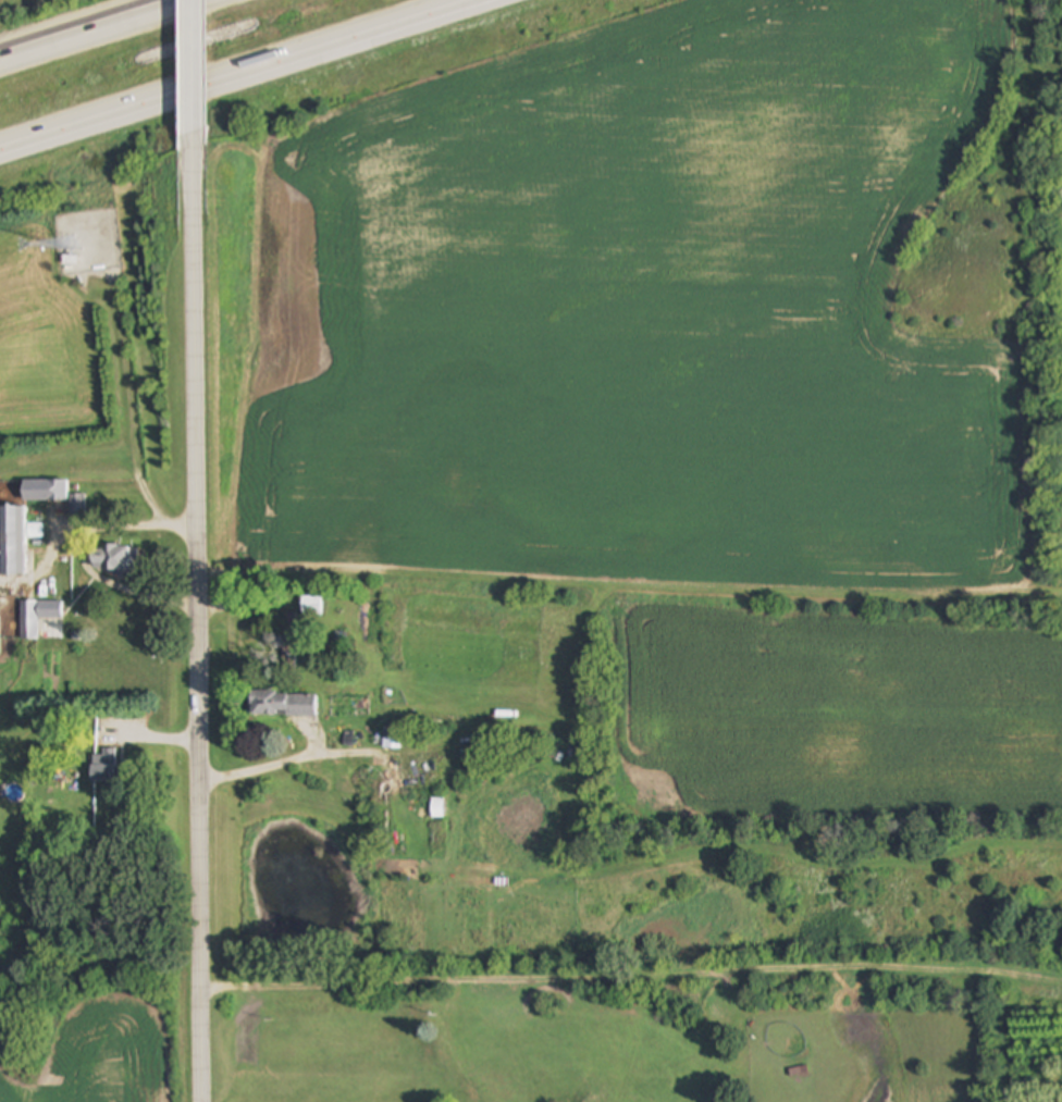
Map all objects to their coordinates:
road: (108, 34)
road: (250, 78)
road: (199, 82)
building: (45, 491)
building: (77, 504)
building: (13, 541)
road: (84, 554)
building: (114, 557)
building: (312, 606)
building: (37, 616)
road: (207, 632)
building: (284, 704)
building: (104, 765)
road: (270, 766)
building: (420, 773)

